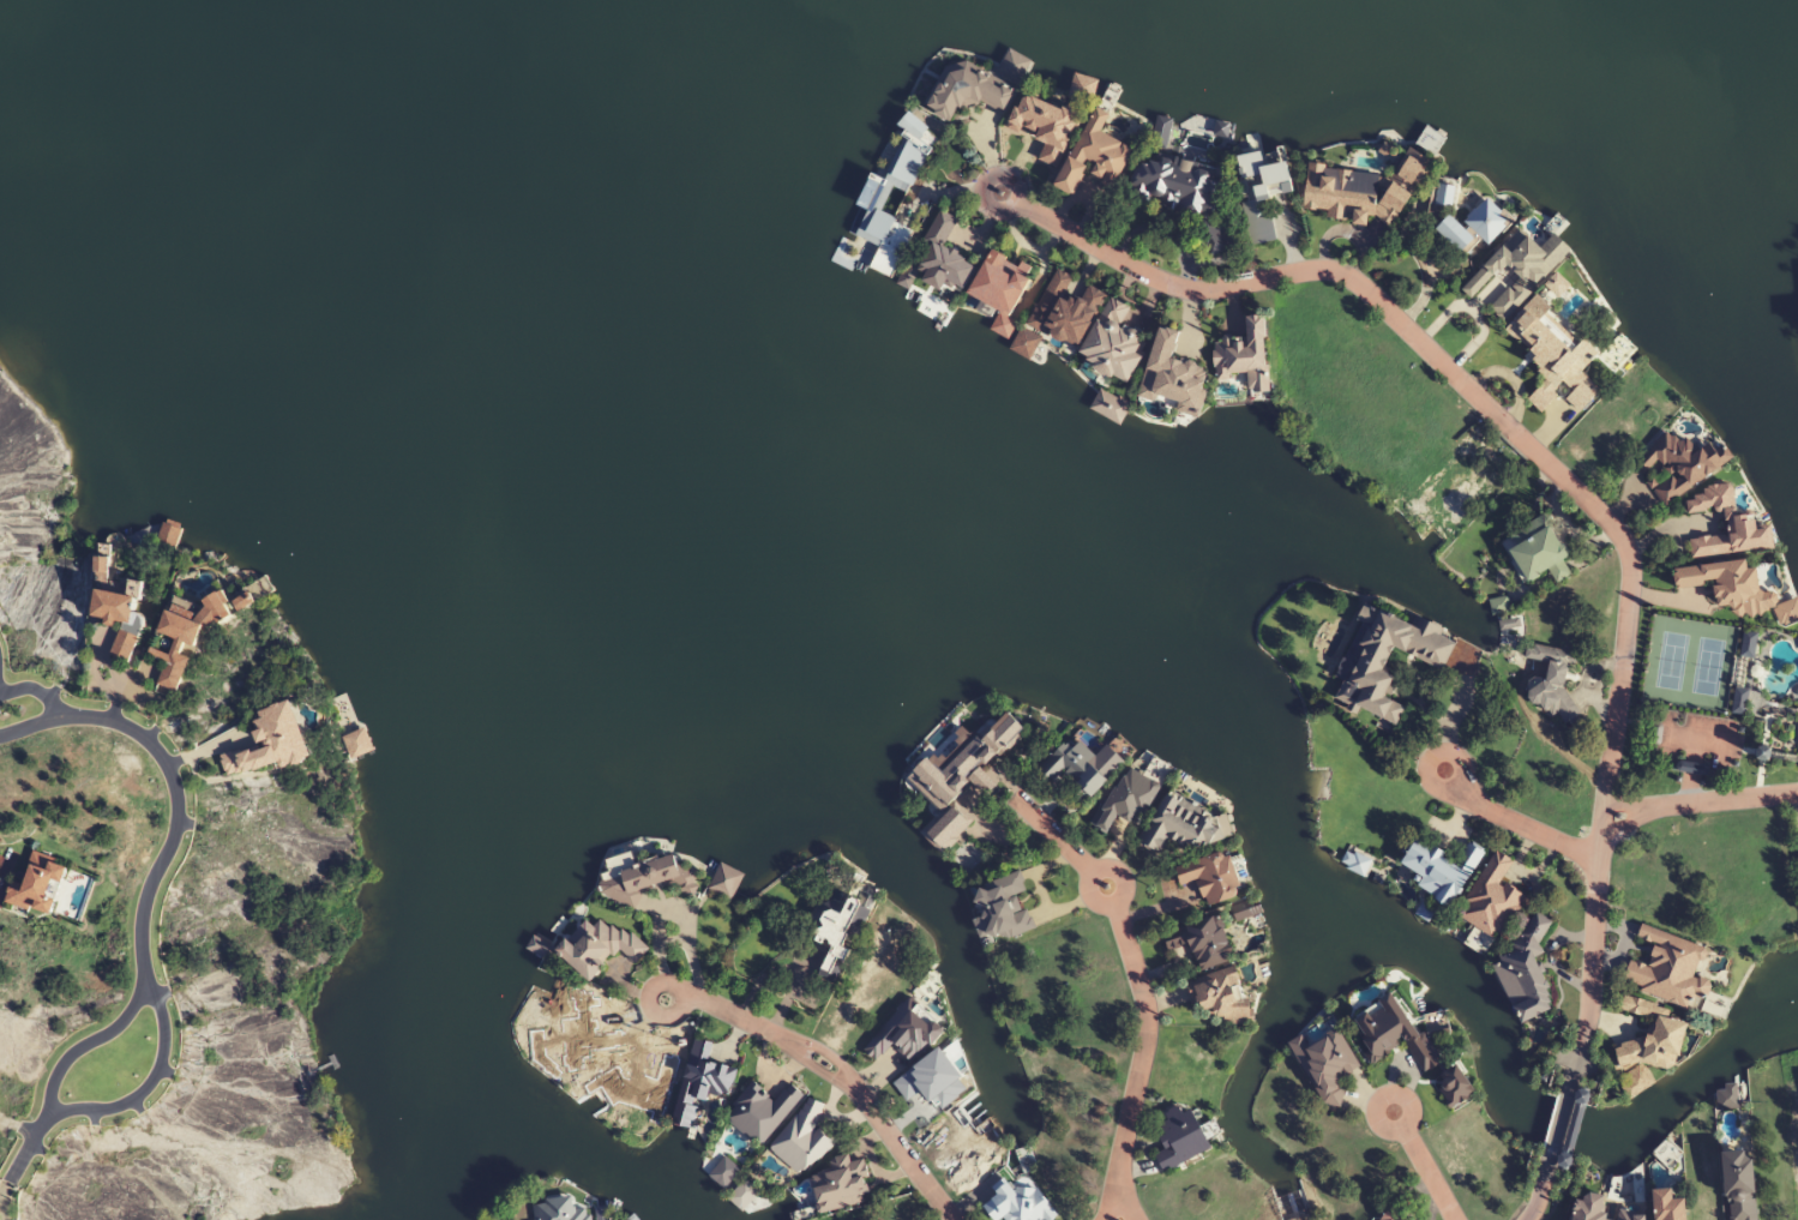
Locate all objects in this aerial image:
building: (1012, 76)
building: (931, 84)
building: (966, 91)
building: (1083, 98)
building: (1118, 110)
building: (1045, 127)
building: (1198, 137)
building: (1430, 150)
building: (1095, 157)
building: (889, 161)
building: (1251, 162)
building: (1175, 185)
building: (1364, 191)
building: (872, 203)
building: (1487, 227)
building: (1455, 234)
building: (1211, 238)
building: (945, 254)
building: (1556, 257)
building: (847, 262)
building: (1796, 287)
building: (933, 313)
building: (1089, 326)
building: (1000, 333)
building: (1032, 350)
building: (1246, 356)
building: (1613, 356)
building: (1552, 360)
building: (1173, 384)
building: (1262, 391)
road: (1495, 413)
building: (1108, 414)
building: (1684, 465)
building: (1742, 523)
building: (169, 539)
building: (1539, 551)
building: (1738, 591)
building: (261, 599)
building: (242, 601)
building: (112, 605)
building: (185, 635)
building: (1385, 660)
building: (1743, 674)
building: (1552, 680)
road: (37, 691)
building: (1089, 735)
building: (270, 744)
building: (355, 744)
building: (937, 747)
road: (166, 765)
building: (1076, 769)
building: (1153, 774)
building: (960, 780)
building: (1129, 801)
road: (1698, 801)
building: (1207, 805)
road: (1513, 823)
building: (1178, 829)
building: (1352, 865)
building: (1441, 870)
building: (637, 877)
building: (1211, 878)
building: (727, 887)
building: (1492, 900)
building: (1002, 911)
building: (1243, 916)
building: (1424, 916)
building: (840, 937)
building: (1471, 942)
building: (1203, 943)
building: (597, 948)
building: (540, 955)
building: (1251, 958)
building: (1670, 970)
road: (1141, 990)
building: (1526, 996)
building: (1220, 997)
road: (1589, 1000)
building: (907, 1033)
road: (95, 1035)
building: (1412, 1040)
building: (1659, 1054)
building: (1328, 1062)
road: (835, 1070)
road: (152, 1072)
building: (700, 1081)
building: (1637, 1087)
building: (762, 1111)
road: (1559, 1120)
building: (802, 1137)
building: (1181, 1137)
building: (1665, 1156)
road: (19, 1158)
road: (1424, 1165)
building: (721, 1172)
building: (1624, 1177)
building: (841, 1184)
building: (1740, 1185)
building: (748, 1198)
road: (1539, 1198)
building: (1016, 1204)
building: (1670, 1204)
building: (1589, 1206)
building: (555, 1212)
building: (1393, 1214)
building: (1631, 1215)
building: (493, 1219)

